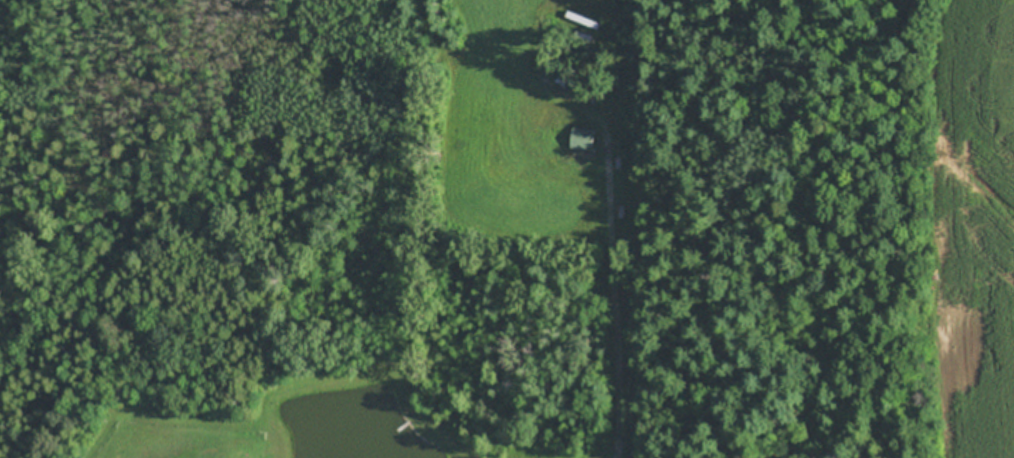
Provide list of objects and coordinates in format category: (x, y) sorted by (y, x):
building: (584, 20)
building: (585, 36)
building: (562, 79)
building: (584, 139)

